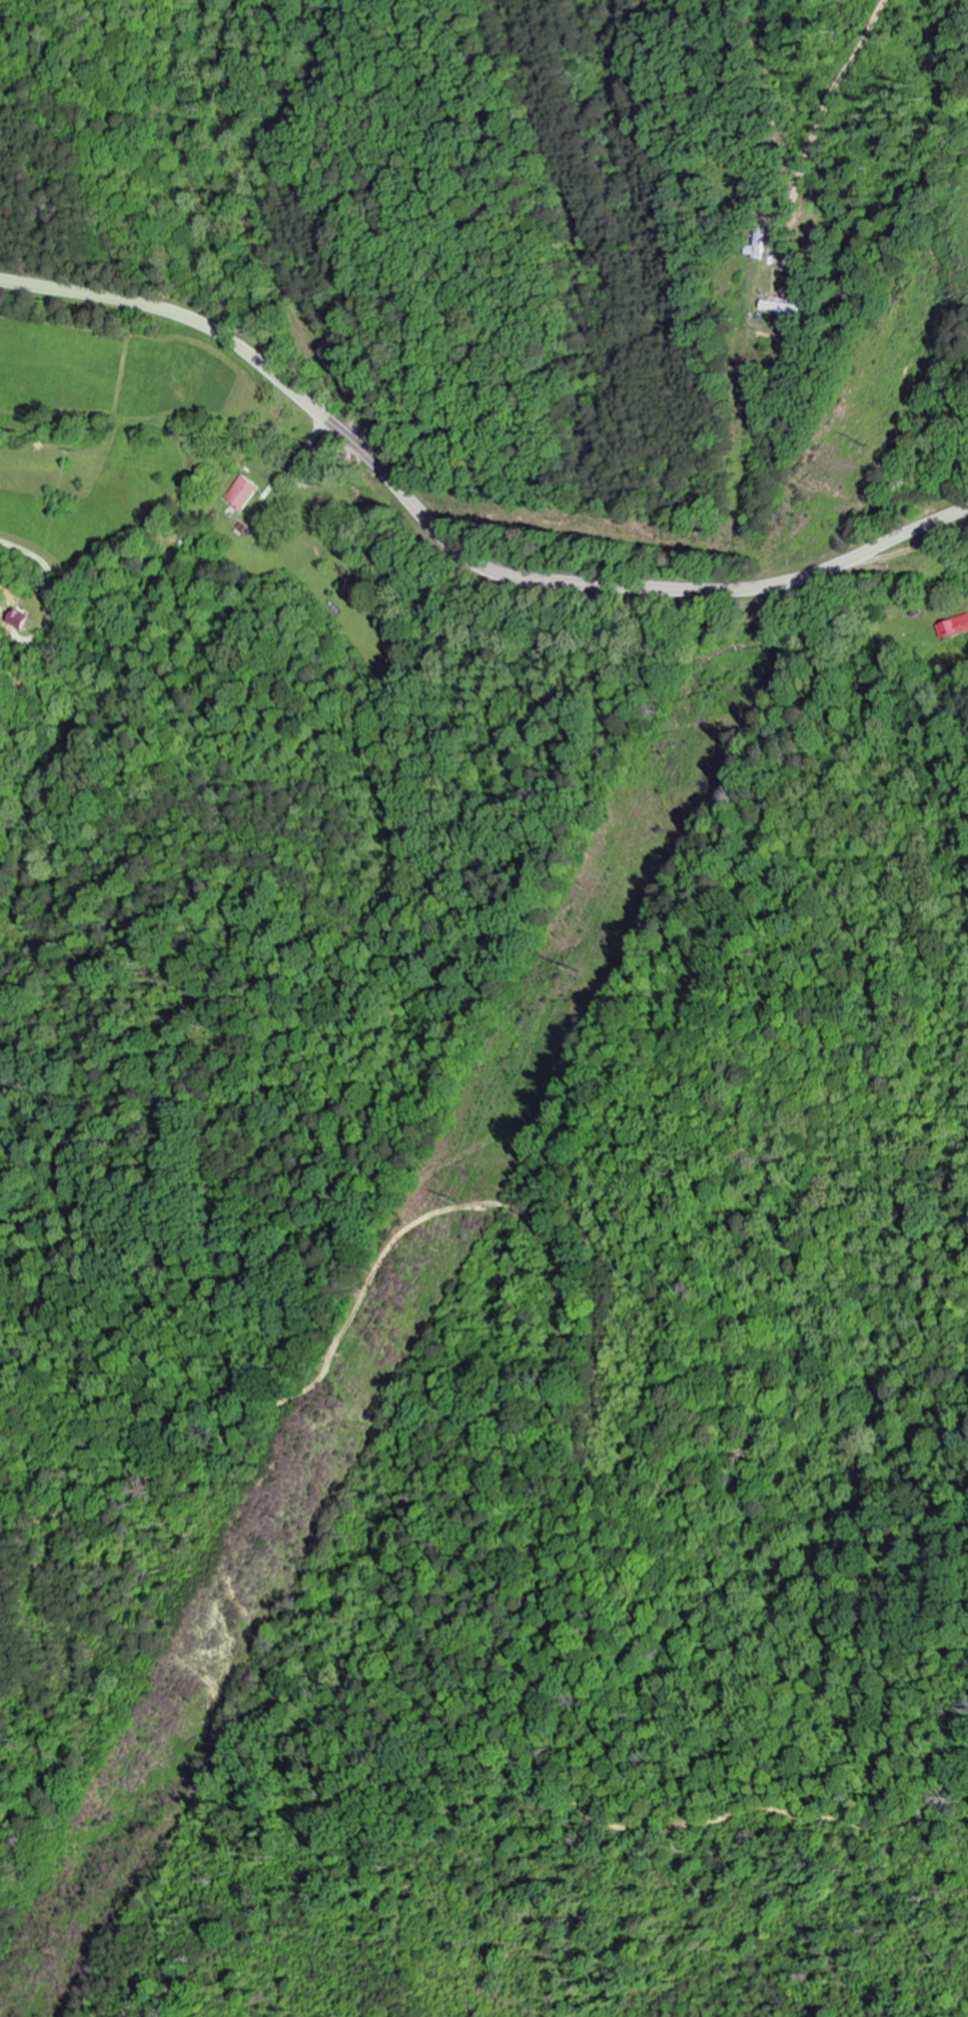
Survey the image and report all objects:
building: (783, 308)
building: (242, 492)
road: (452, 543)
building: (953, 628)

